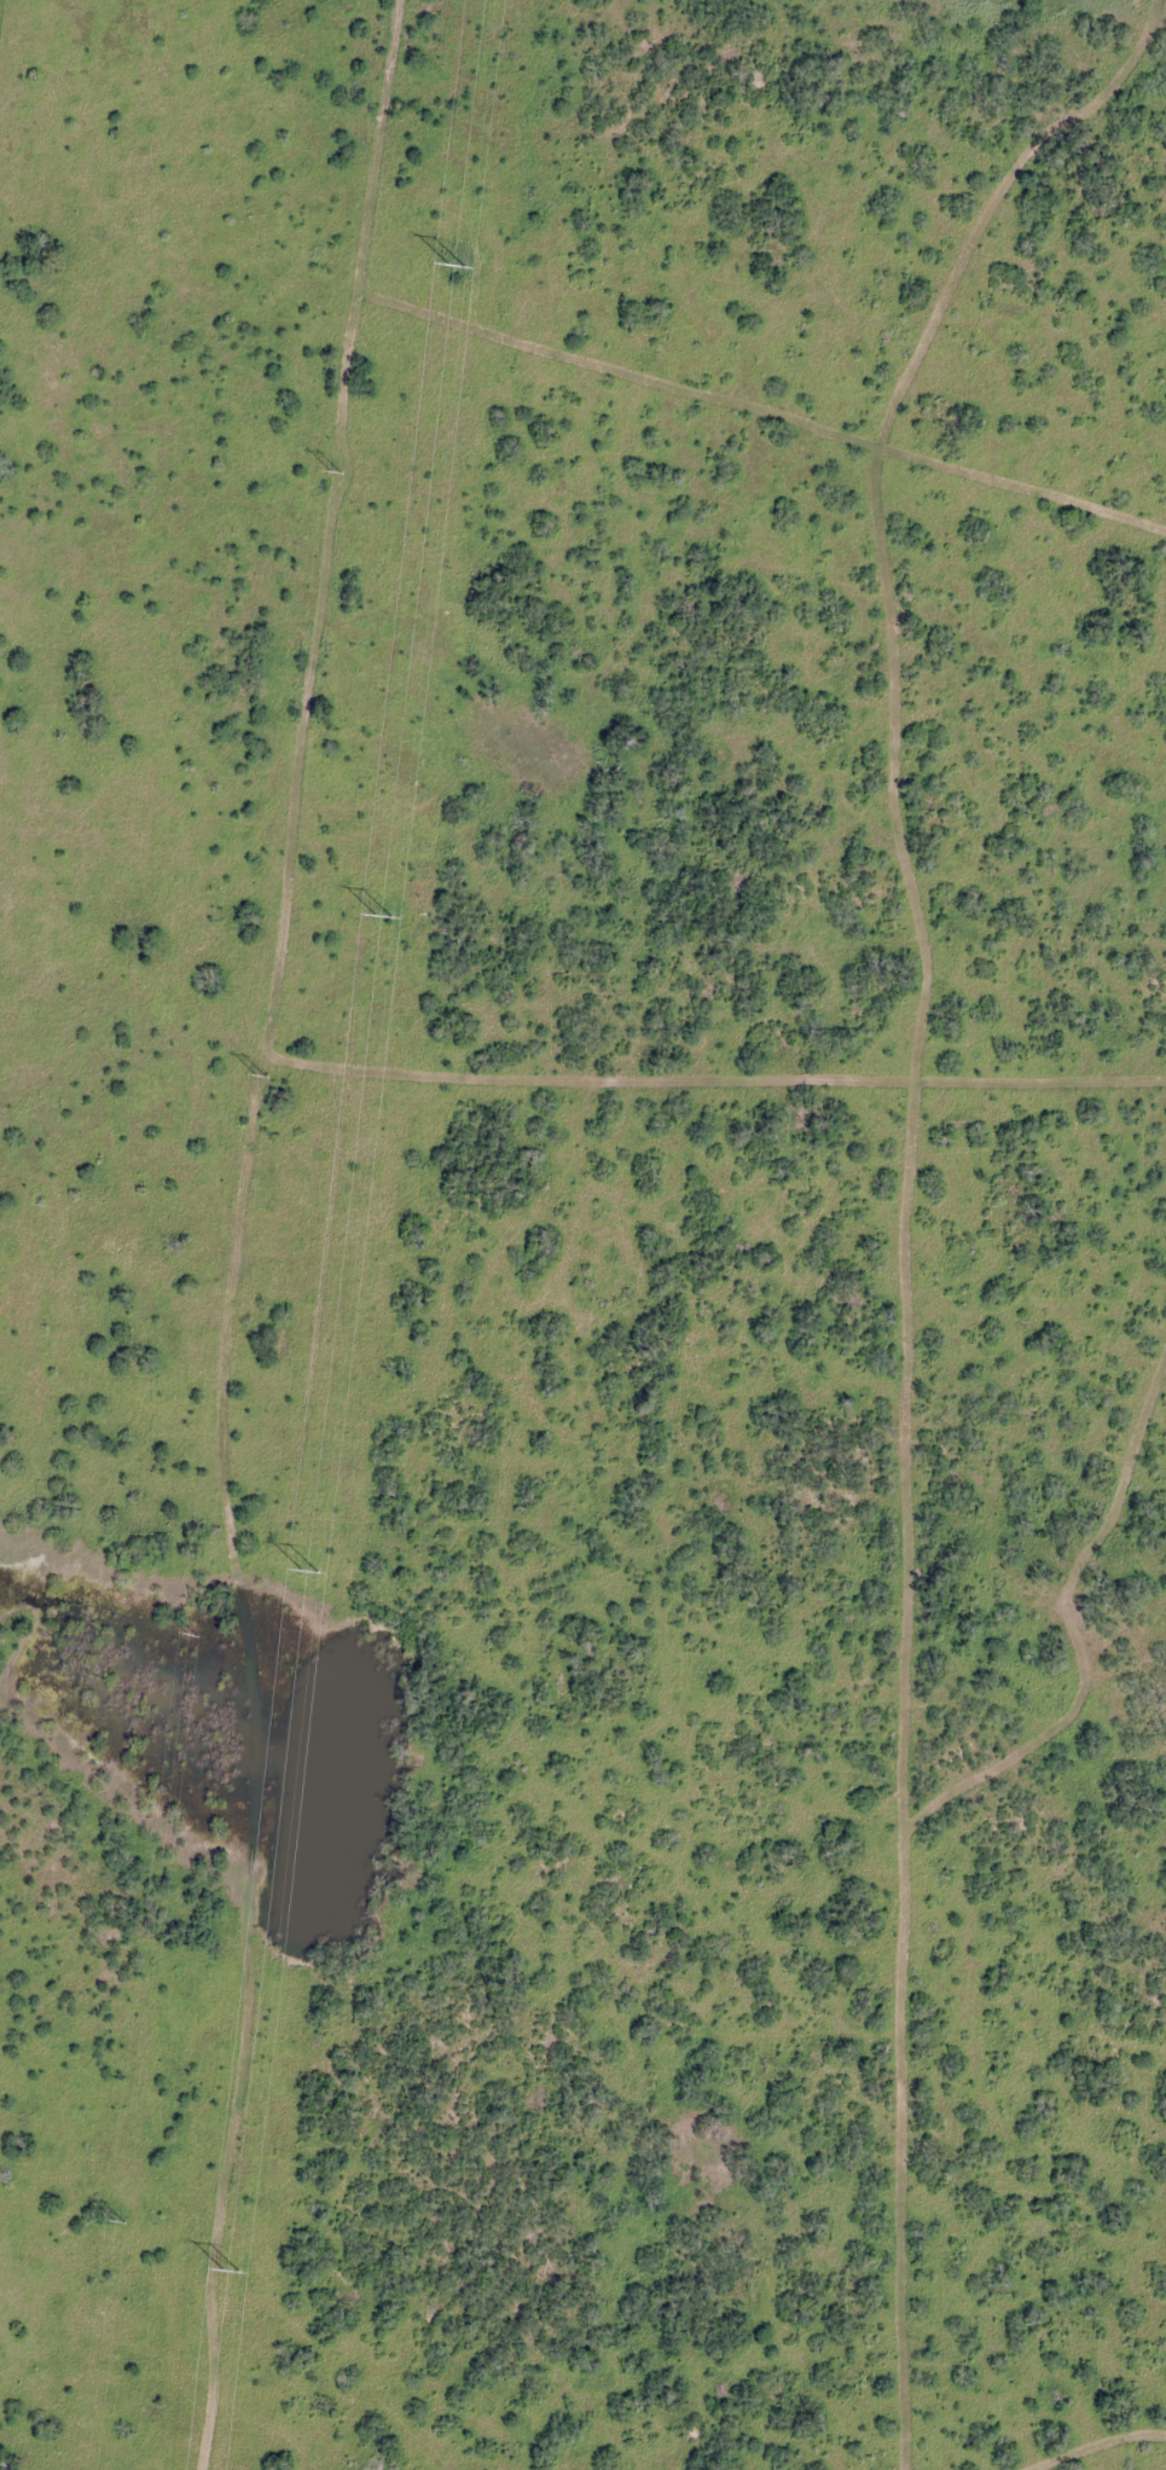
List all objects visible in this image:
power tower: (453, 271)
power tower: (336, 472)
power tower: (382, 918)
power tower: (261, 1075)
power tower: (307, 1575)
power tower: (191, 1633)
power tower: (118, 2221)
power tower: (230, 2274)

